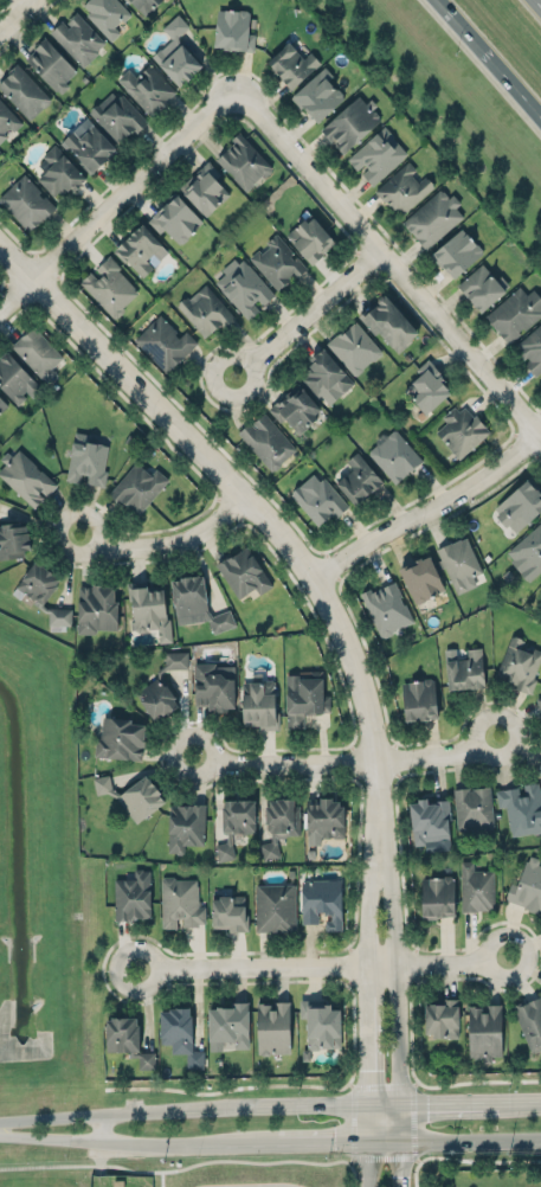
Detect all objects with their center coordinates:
road: (537, 4)
building: (143, 5)
building: (105, 14)
road: (15, 15)
building: (232, 23)
building: (79, 39)
road: (489, 59)
building: (51, 65)
building: (179, 66)
building: (294, 66)
building: (147, 88)
building: (25, 92)
building: (320, 97)
building: (117, 116)
building: (7, 121)
building: (350, 123)
building: (90, 148)
building: (378, 155)
building: (245, 163)
building: (58, 173)
building: (205, 188)
building: (404, 190)
road: (114, 197)
building: (26, 203)
building: (434, 218)
building: (175, 219)
building: (310, 238)
building: (141, 249)
building: (458, 256)
road: (394, 259)
building: (277, 262)
building: (109, 287)
building: (243, 287)
building: (483, 287)
building: (206, 310)
building: (515, 313)
road: (313, 315)
building: (391, 326)
building: (163, 342)
building: (355, 348)
building: (532, 349)
building: (38, 353)
building: (14, 376)
building: (327, 376)
building: (540, 380)
building: (427, 389)
building: (2, 402)
building: (296, 410)
building: (462, 431)
building: (266, 441)
building: (395, 456)
building: (88, 460)
building: (25, 477)
building: (361, 480)
building: (139, 487)
road: (243, 496)
building: (321, 502)
building: (520, 507)
road: (424, 508)
building: (13, 540)
road: (161, 543)
building: (528, 554)
building: (461, 565)
building: (244, 573)
building: (421, 576)
building: (37, 583)
building: (95, 604)
building: (198, 605)
building: (384, 607)
building: (149, 610)
building: (59, 617)
building: (519, 663)
building: (464, 667)
building: (214, 684)
building: (162, 685)
building: (304, 697)
building: (419, 699)
building: (539, 702)
building: (259, 704)
building: (120, 739)
road: (341, 762)
building: (539, 766)
building: (131, 794)
building: (472, 808)
building: (521, 808)
building: (324, 817)
building: (234, 821)
building: (279, 821)
building: (186, 825)
building: (430, 825)
building: (476, 886)
building: (527, 886)
building: (131, 894)
building: (437, 897)
building: (180, 900)
building: (322, 900)
building: (275, 906)
building: (230, 912)
road: (366, 957)
road: (401, 957)
road: (320, 967)
building: (442, 1015)
building: (530, 1021)
building: (321, 1022)
building: (228, 1024)
building: (273, 1026)
building: (176, 1027)
building: (484, 1031)
building: (127, 1037)
road: (270, 1105)
road: (368, 1121)
road: (402, 1121)
road: (101, 1127)
road: (472, 1137)
road: (97, 1140)
road: (386, 1140)
road: (236, 1141)
road: (322, 1141)
road: (212, 1159)
road: (475, 1160)
road: (401, 1162)
road: (368, 1163)
road: (343, 1174)
road: (416, 1178)

